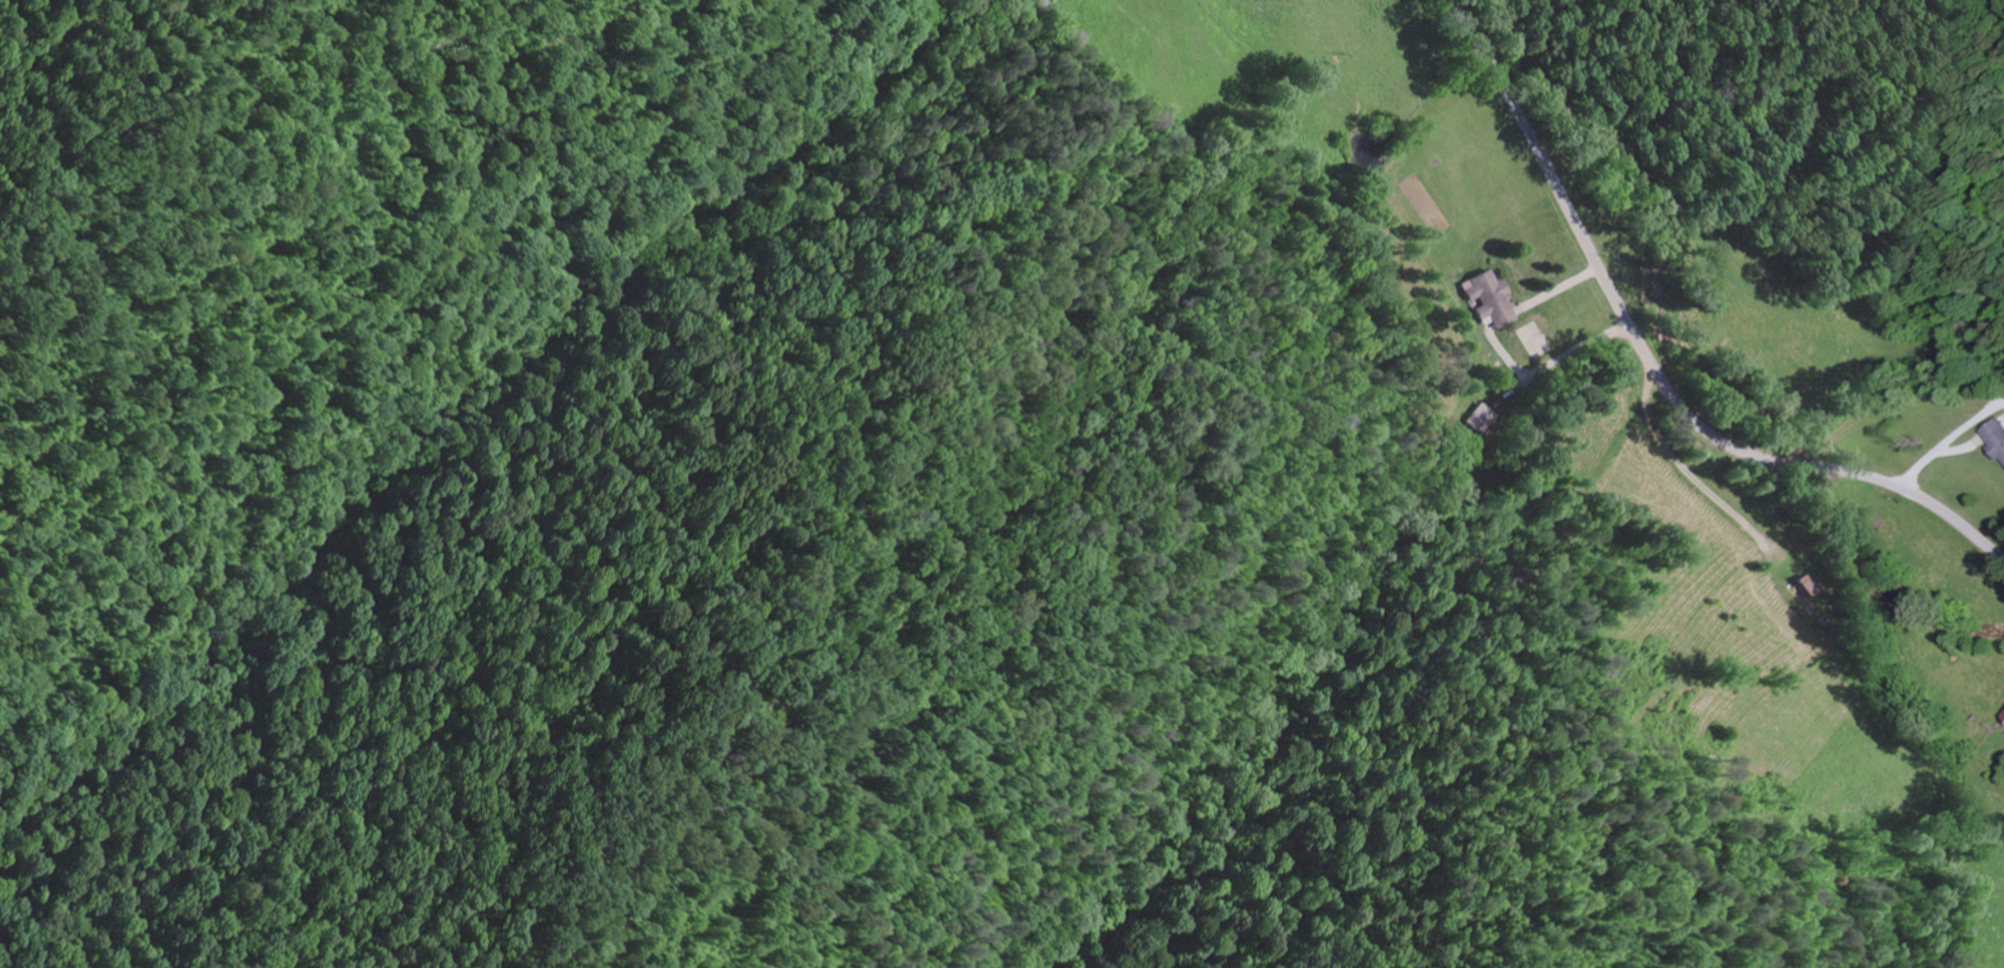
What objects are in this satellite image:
building: (1488, 298)
road: (1649, 366)
building: (1482, 421)
building: (1995, 437)
building: (1800, 596)
building: (2003, 716)

